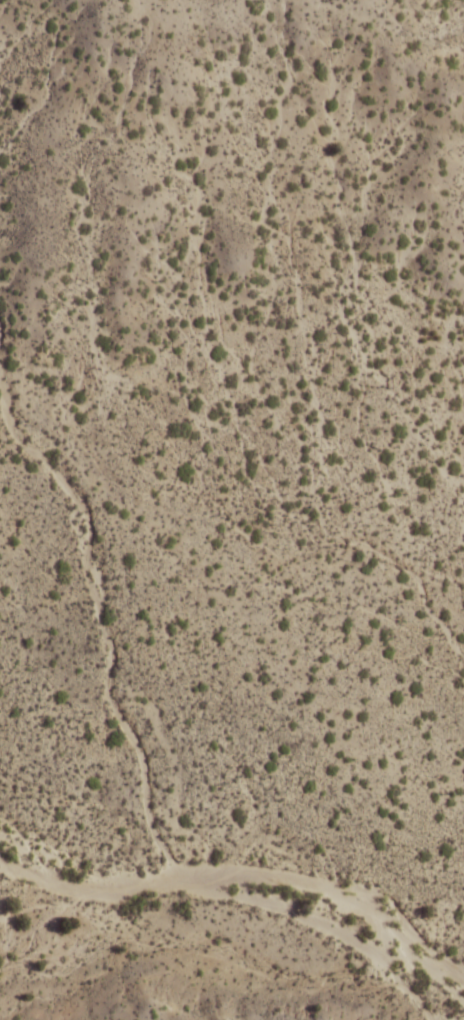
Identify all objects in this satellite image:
road: (395, 22)
river: (243, 876)

